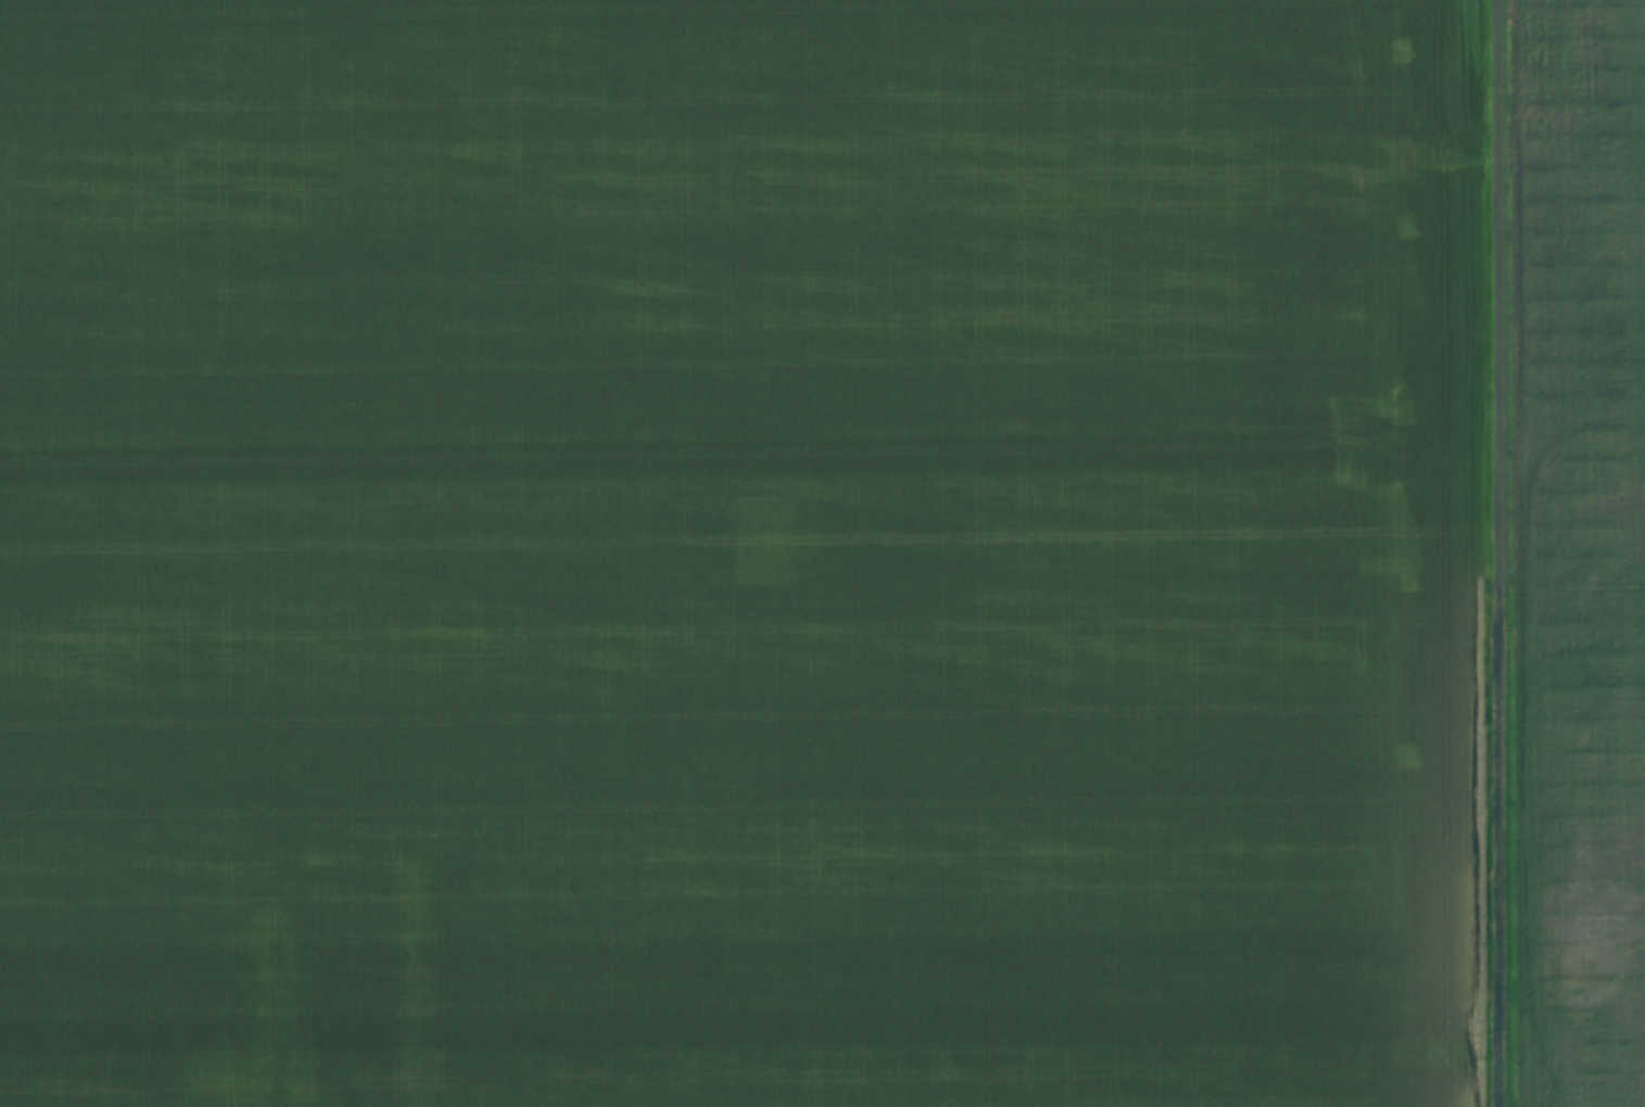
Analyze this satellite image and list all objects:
road: (1505, 552)

